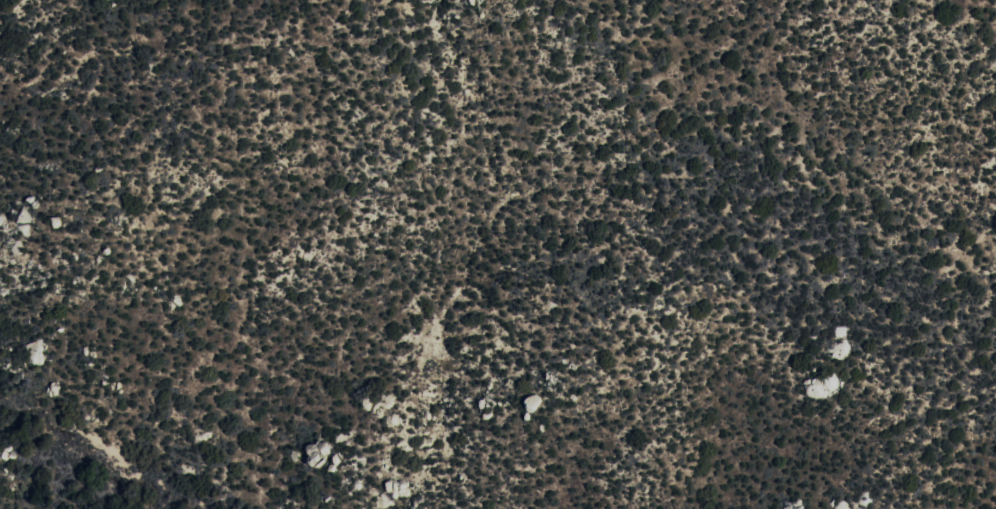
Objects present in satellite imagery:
building: (535, 401)

